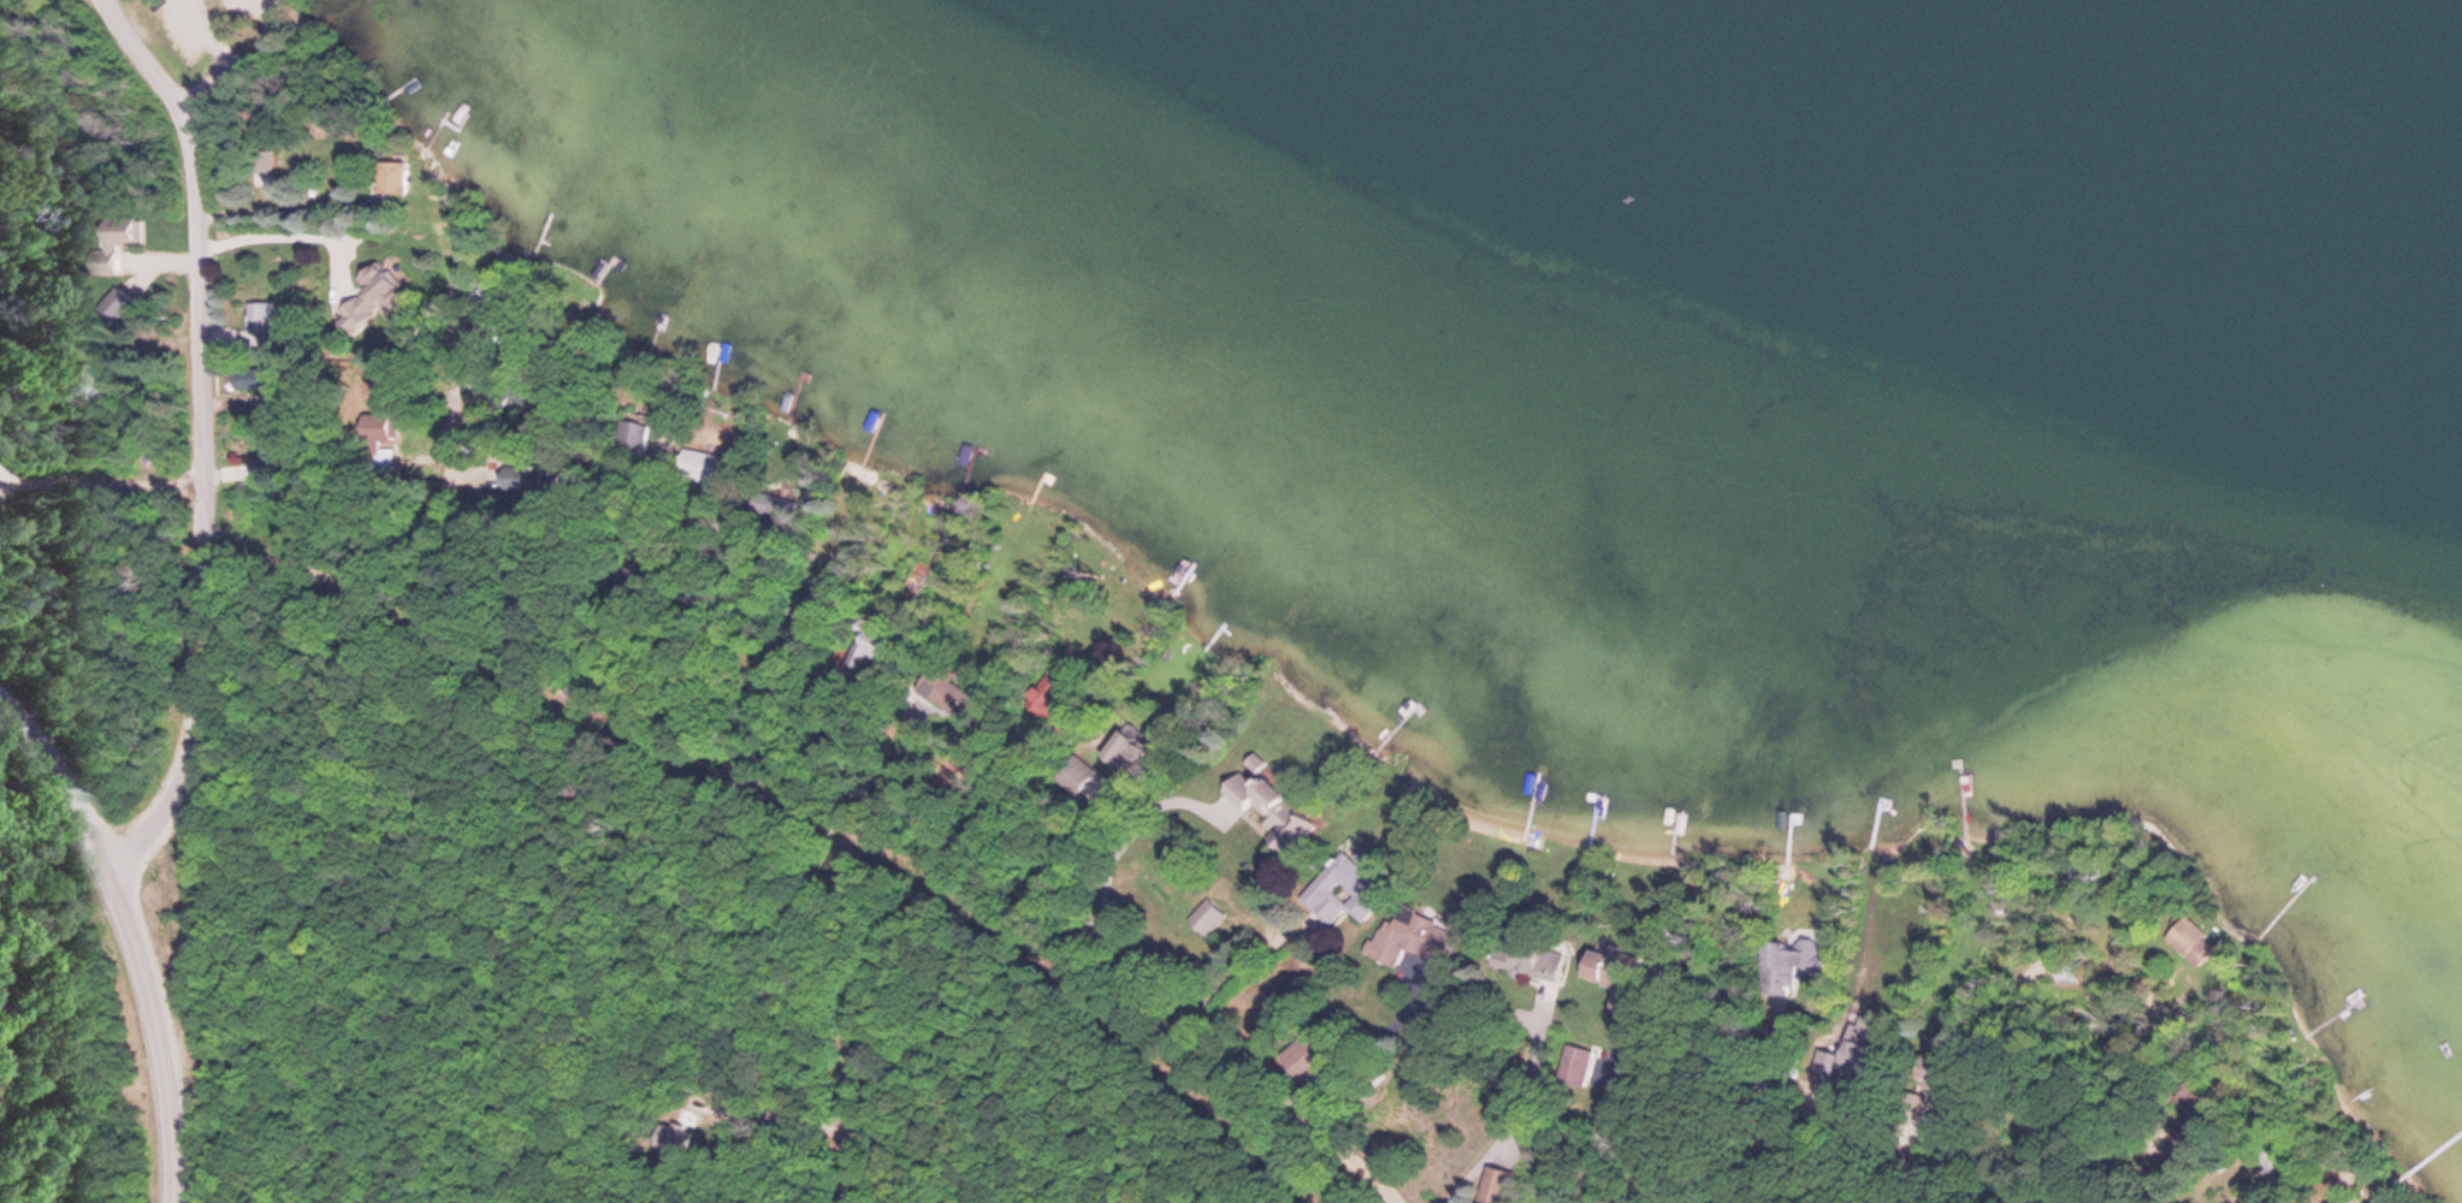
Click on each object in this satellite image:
parking lot: (215, 22)
road: (236, 57)
road: (205, 438)
road: (106, 484)
road: (425, 562)
road: (1034, 911)
road: (137, 940)
building: (1395, 943)
building: (1491, 1190)

